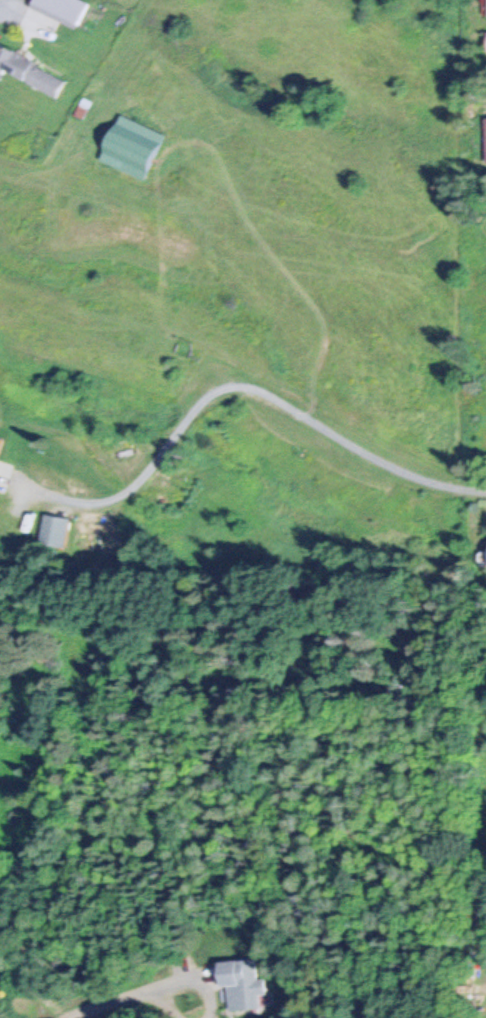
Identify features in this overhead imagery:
building: (61, 9)
building: (485, 40)
building: (30, 72)
building: (130, 146)
road: (255, 391)
building: (0, 437)
building: (53, 530)
building: (241, 983)
road: (141, 991)

